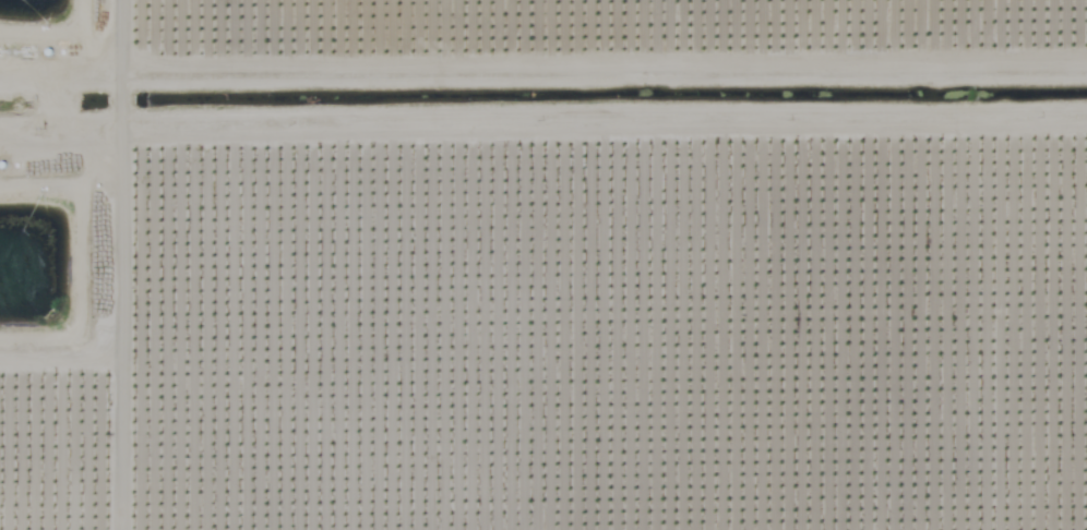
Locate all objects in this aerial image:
road: (542, 144)
road: (89, 242)
crop: (543, 265)
road: (987, 336)

